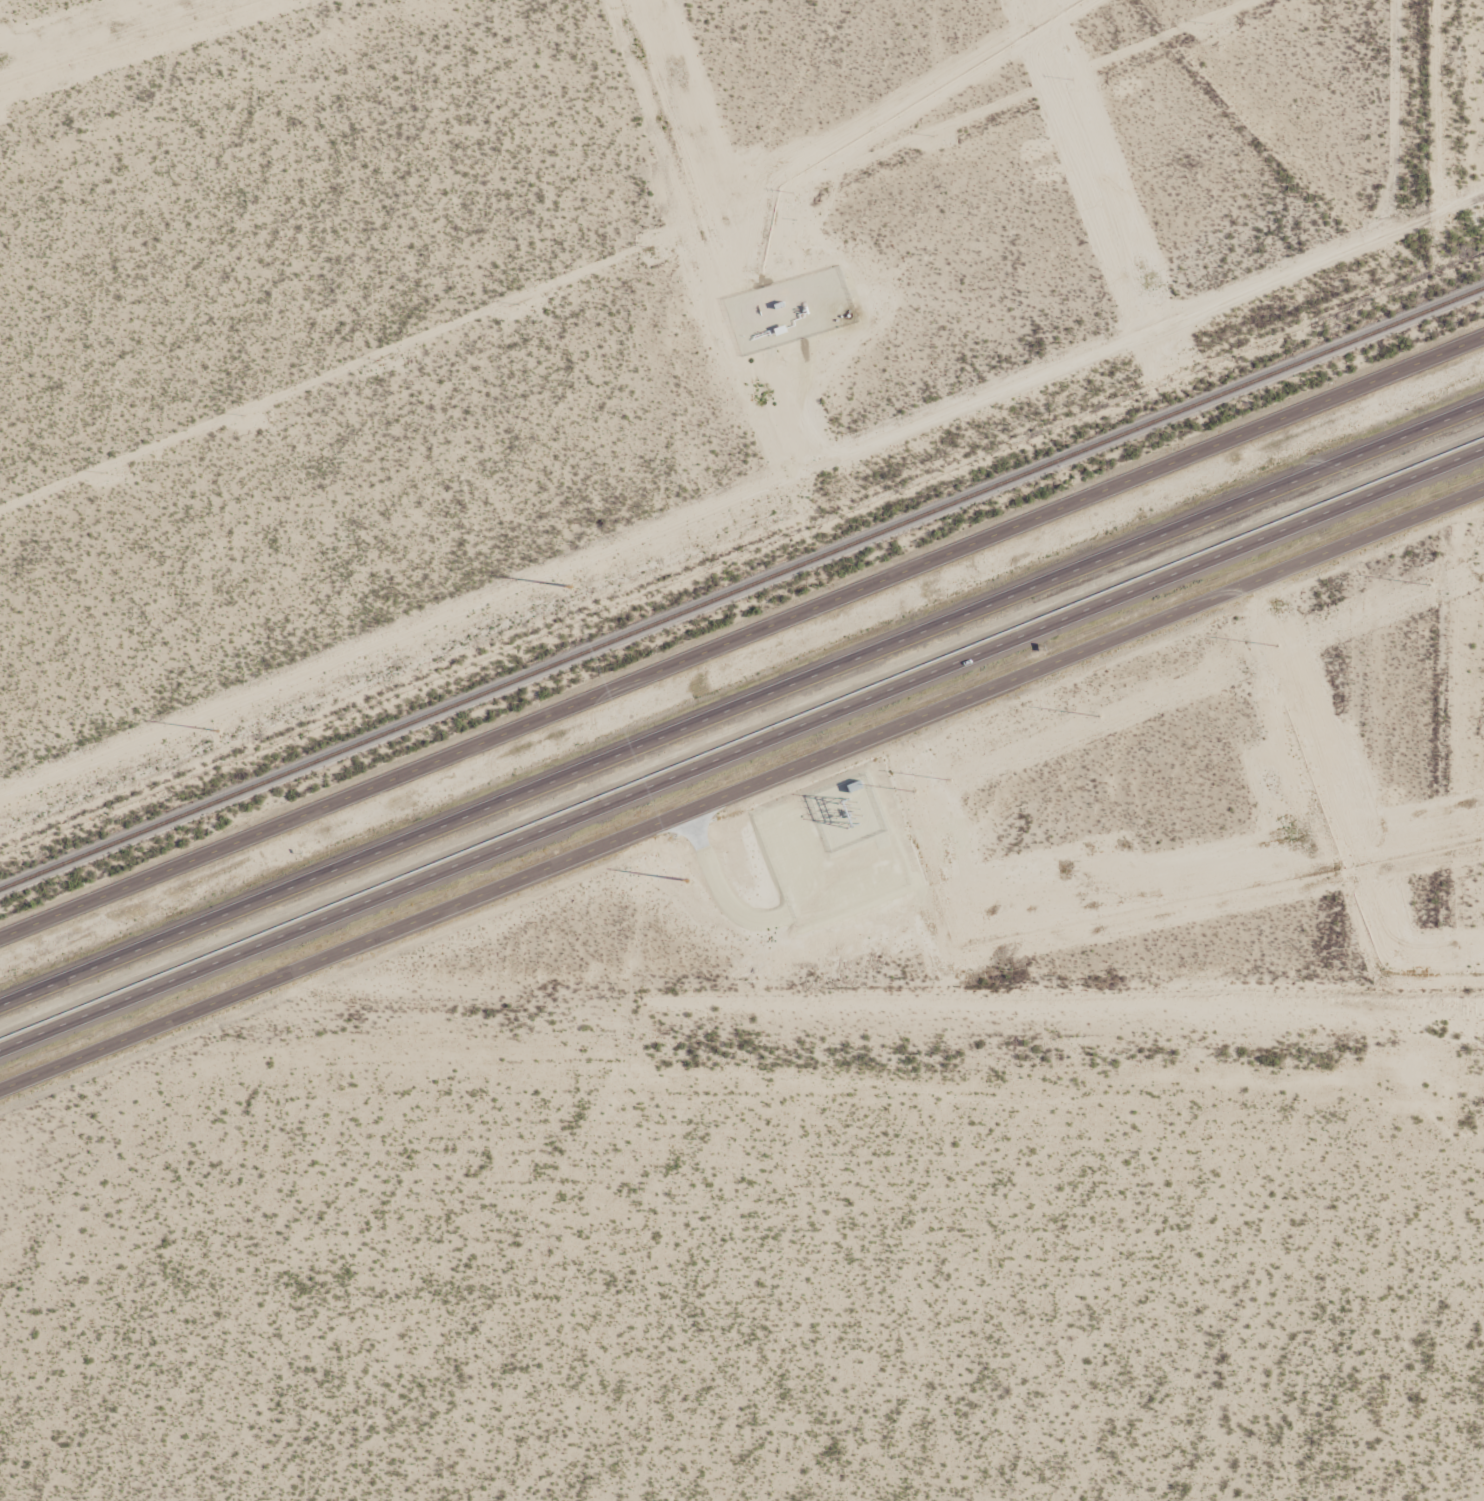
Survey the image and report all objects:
road: (1381, 120)
road: (741, 495)
railway: (741, 588)
road: (742, 637)
road: (741, 704)
road: (742, 748)
road: (742, 802)

